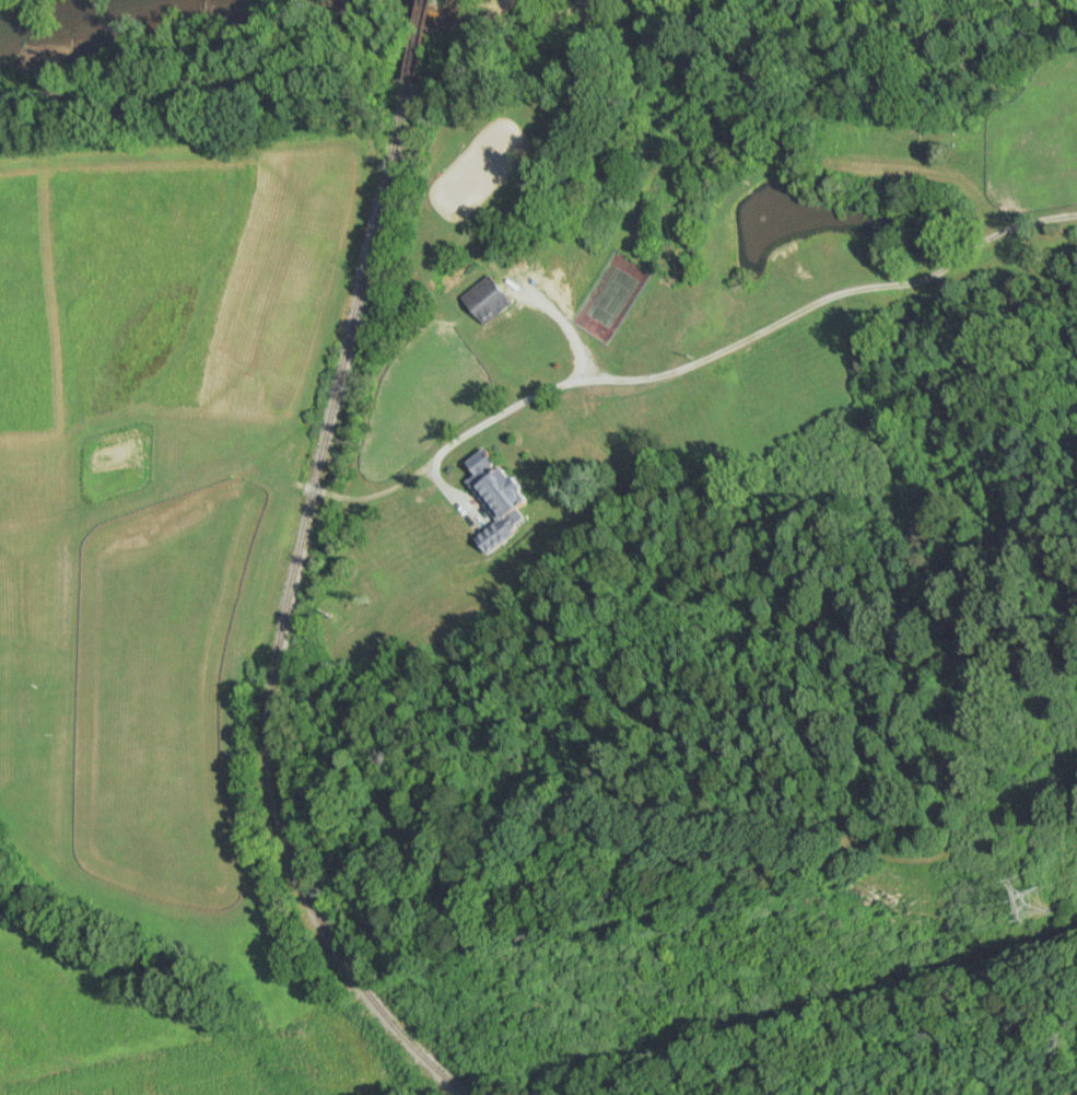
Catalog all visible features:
river: (97, 11)
railway: (418, 39)
park: (612, 292)
building: (485, 300)
road: (817, 302)
building: (491, 485)
railway: (290, 610)
power tower: (1030, 904)

